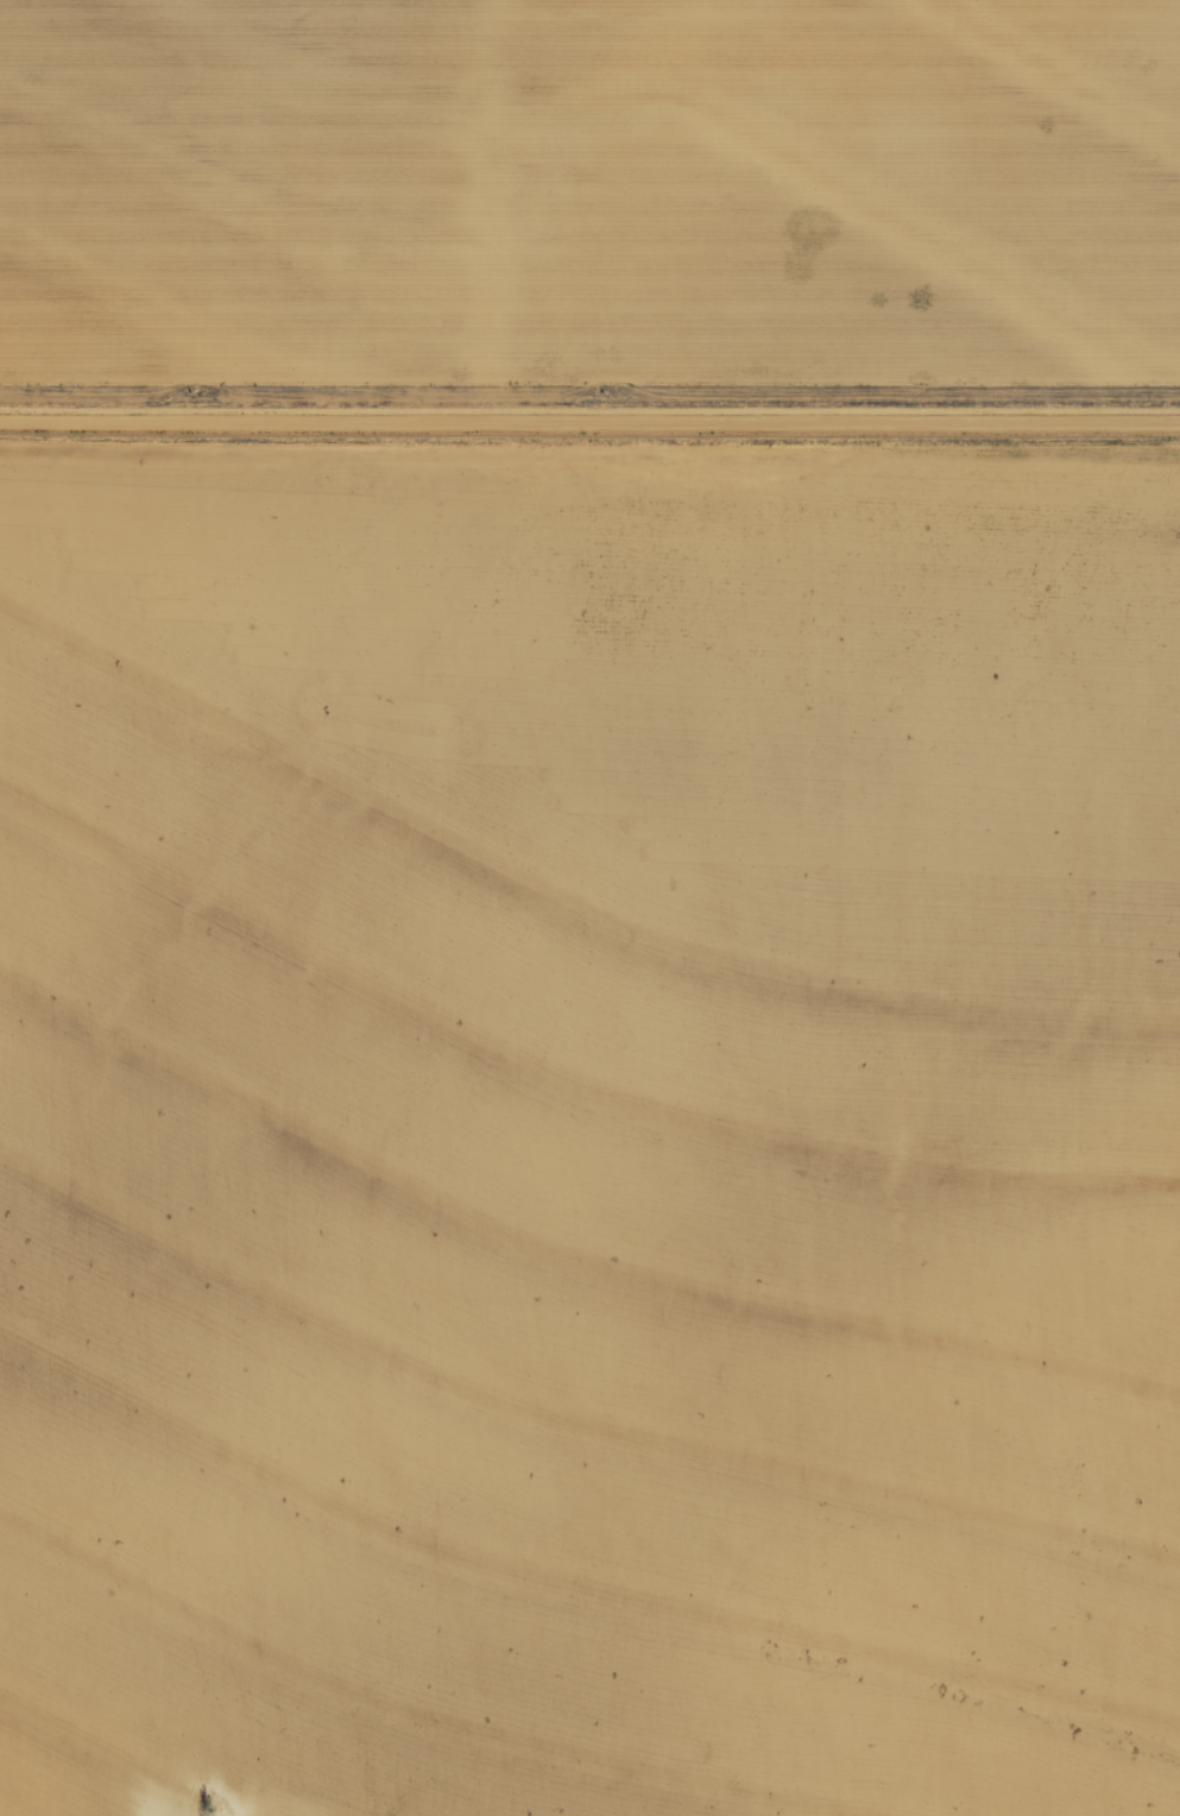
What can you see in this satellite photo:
road: (589, 421)

